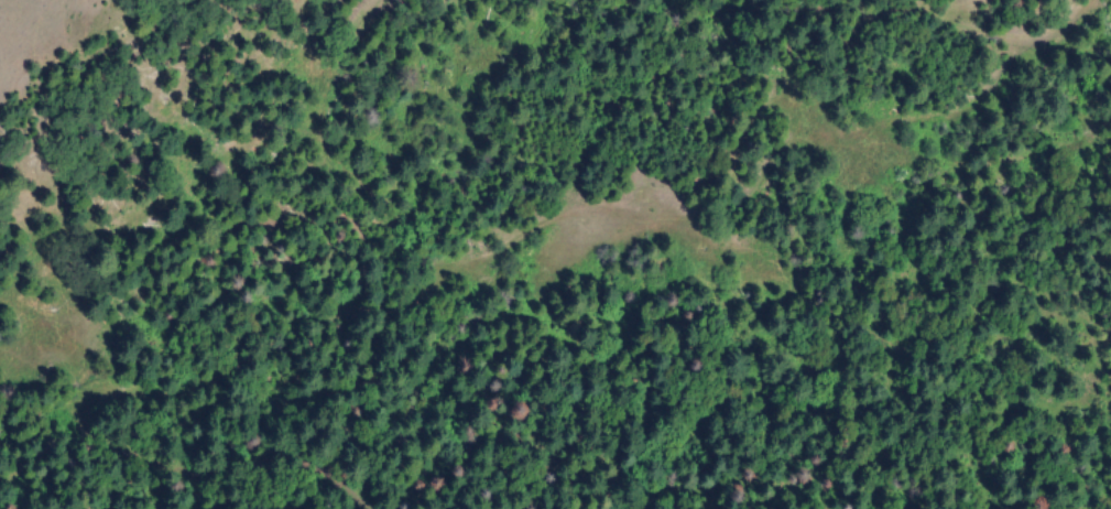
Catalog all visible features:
road: (500, 238)

